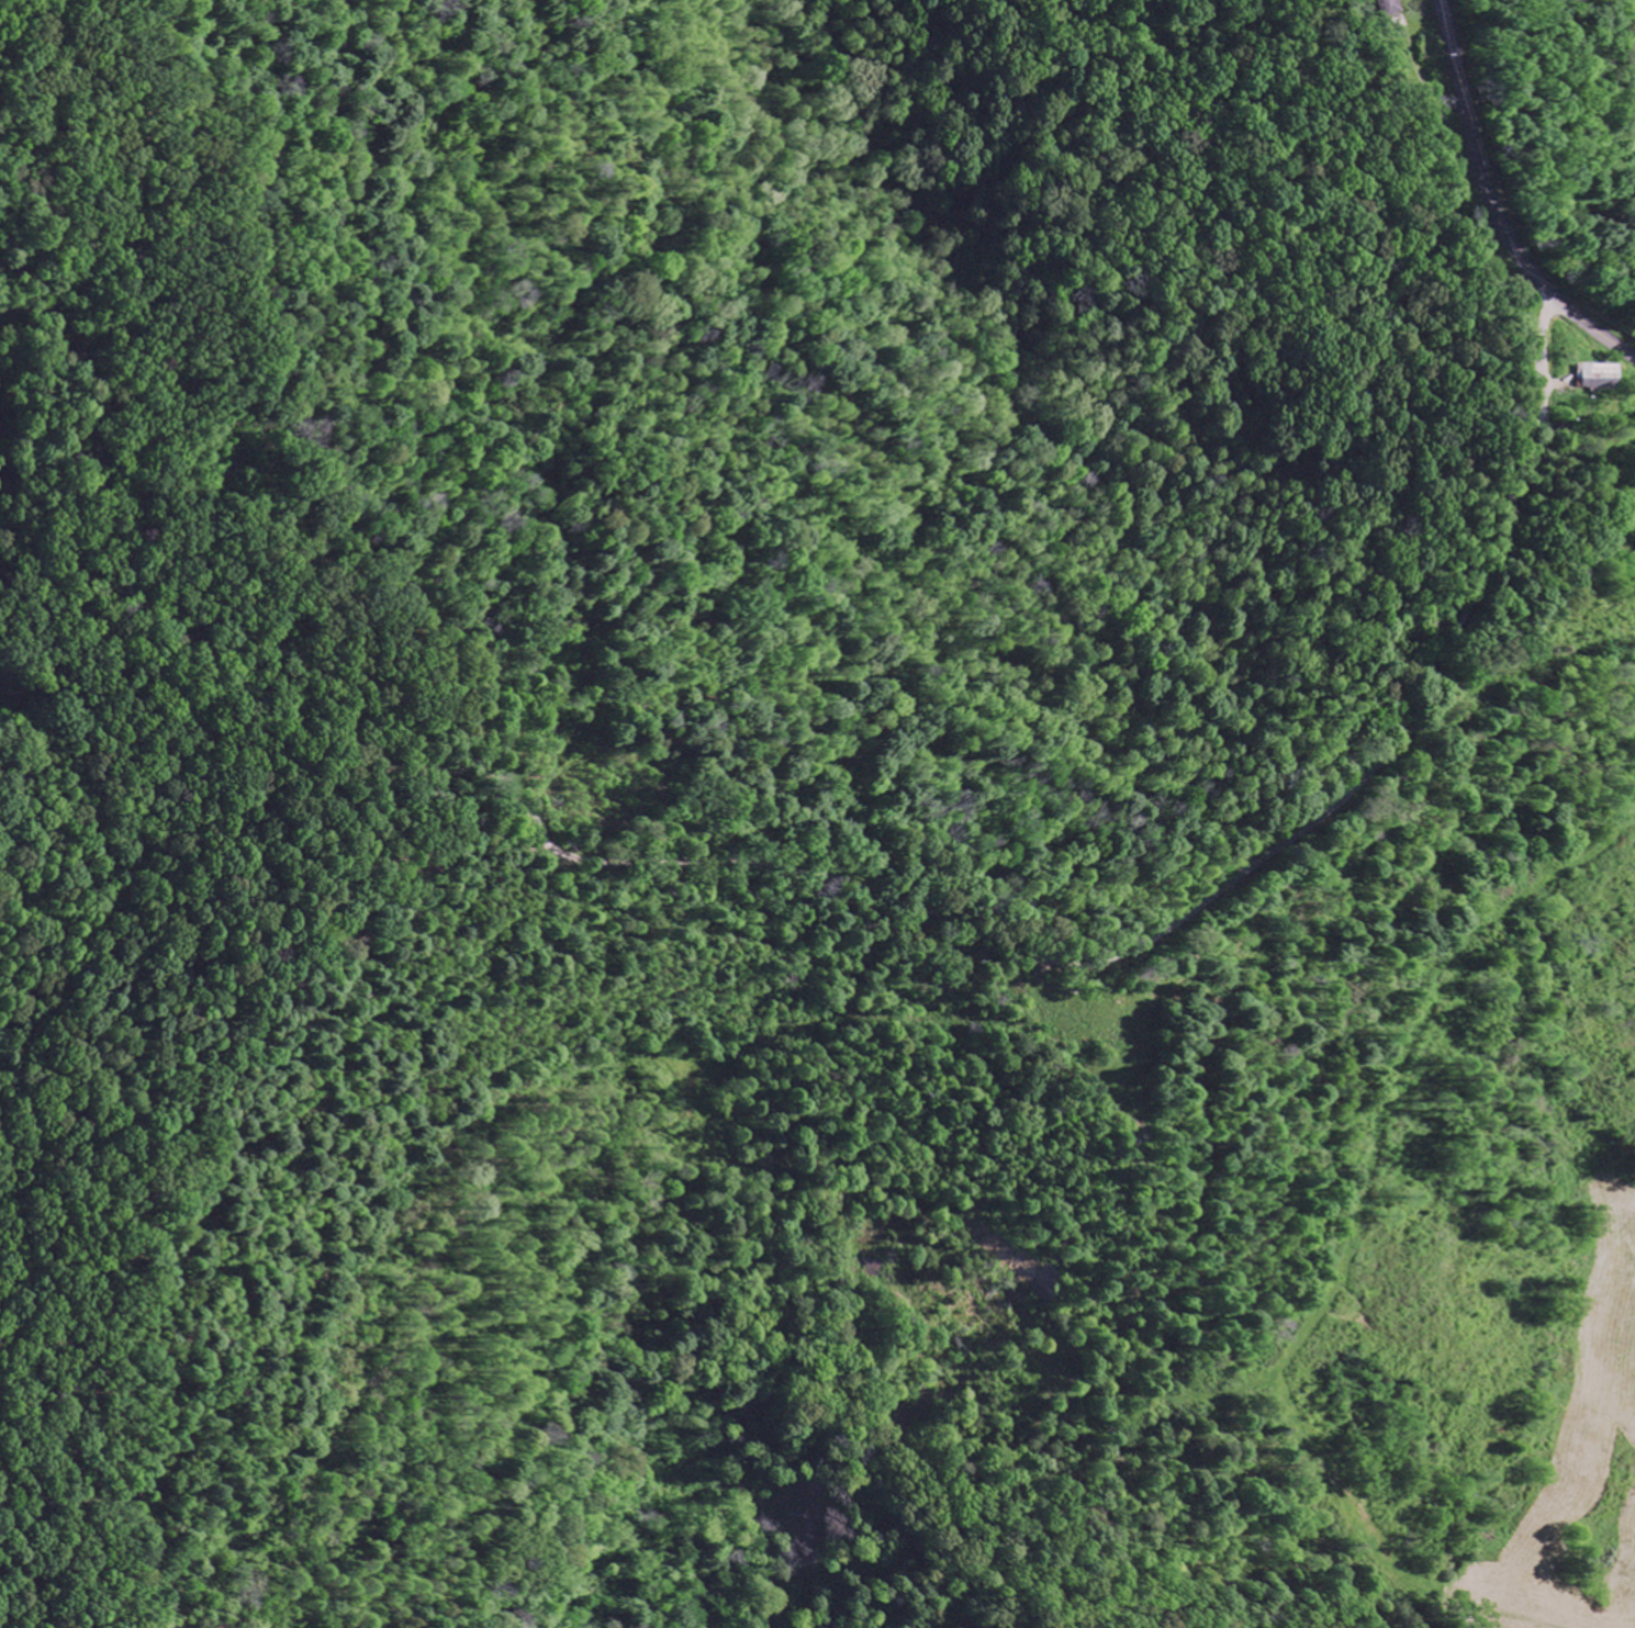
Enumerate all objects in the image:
building: (1380, 8)
road: (1494, 205)
building: (1594, 377)
road: (215, 503)
road: (837, 875)

